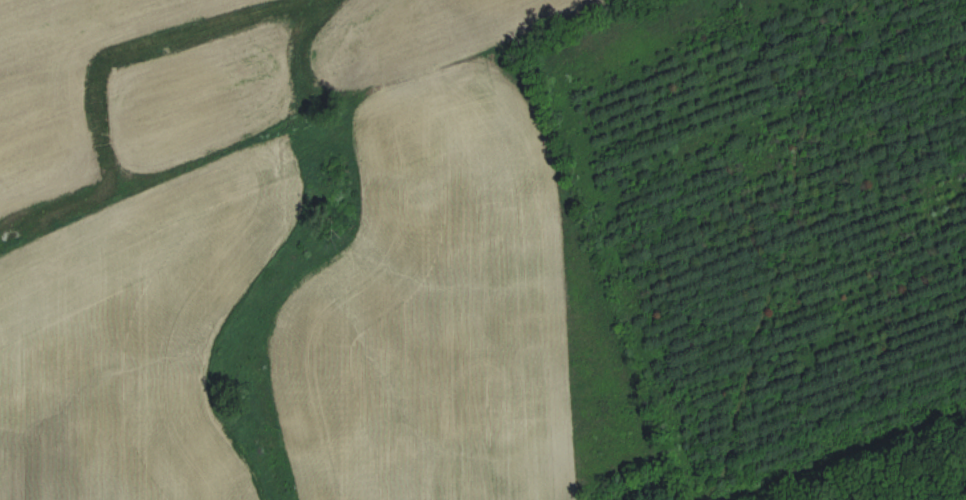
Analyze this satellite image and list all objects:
road: (844, 7)
park: (752, 247)
road: (774, 256)
road: (858, 465)

